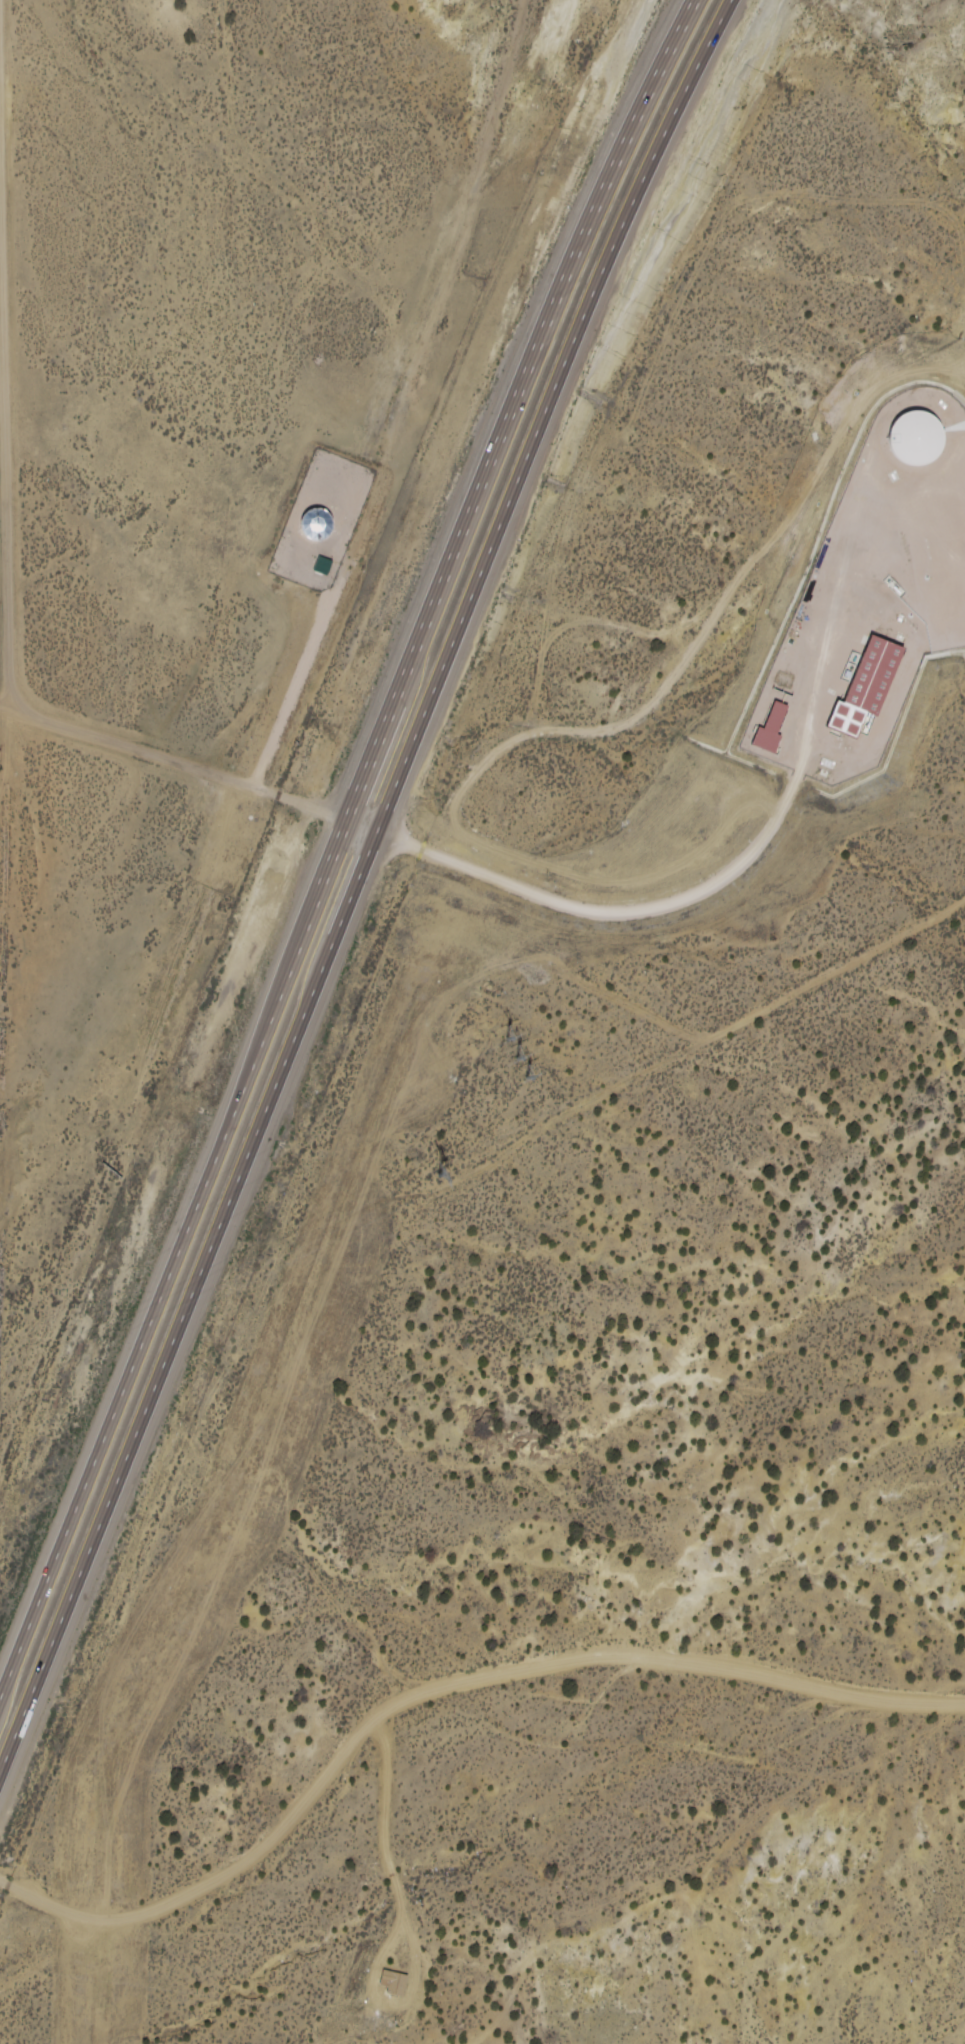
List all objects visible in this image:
road: (206, 141)
road: (4, 367)
building: (923, 442)
building: (874, 690)
road: (821, 692)
building: (780, 727)
road: (190, 764)
road: (335, 847)
road: (356, 882)
road: (710, 894)
road: (720, 1037)
power tower: (518, 1057)
power tower: (446, 1175)
road: (439, 1698)
road: (19, 1931)
road: (59, 1961)

